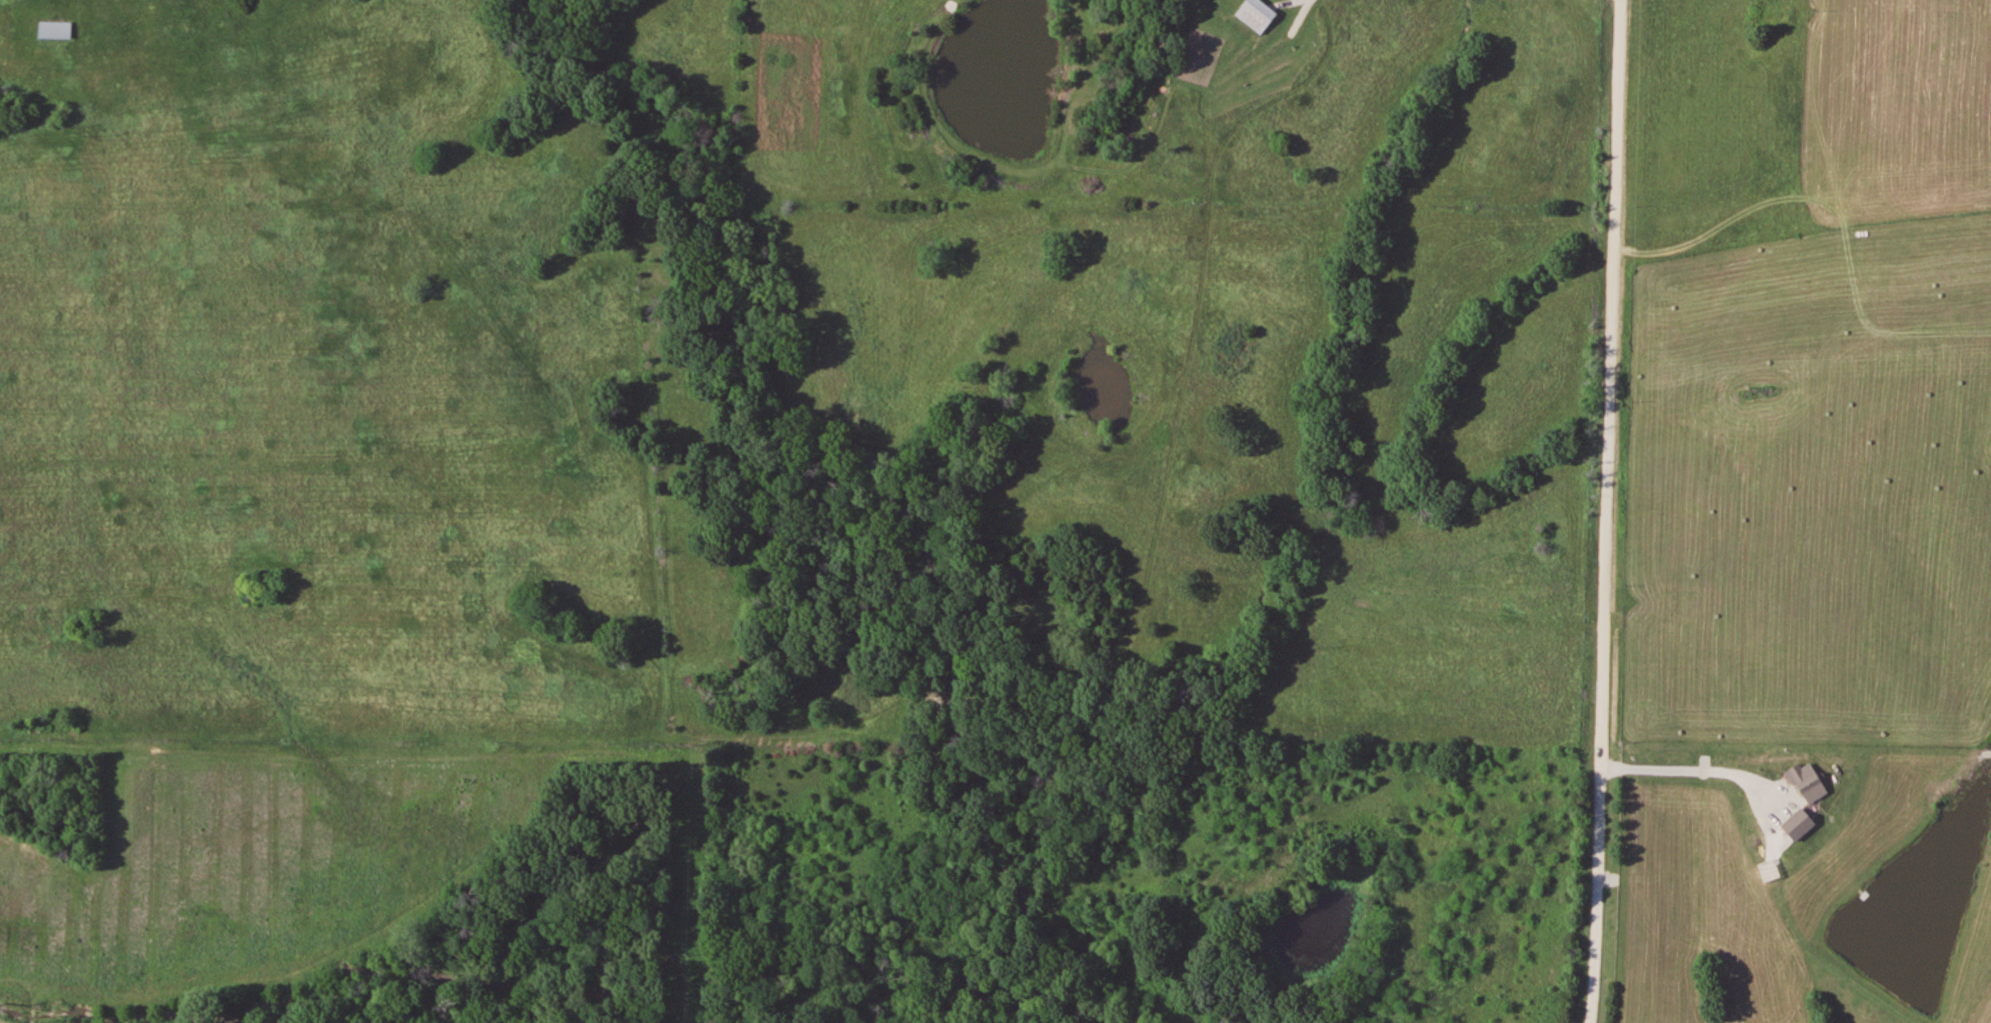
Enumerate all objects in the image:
building: (1257, 15)
building: (55, 30)
road: (1605, 512)

